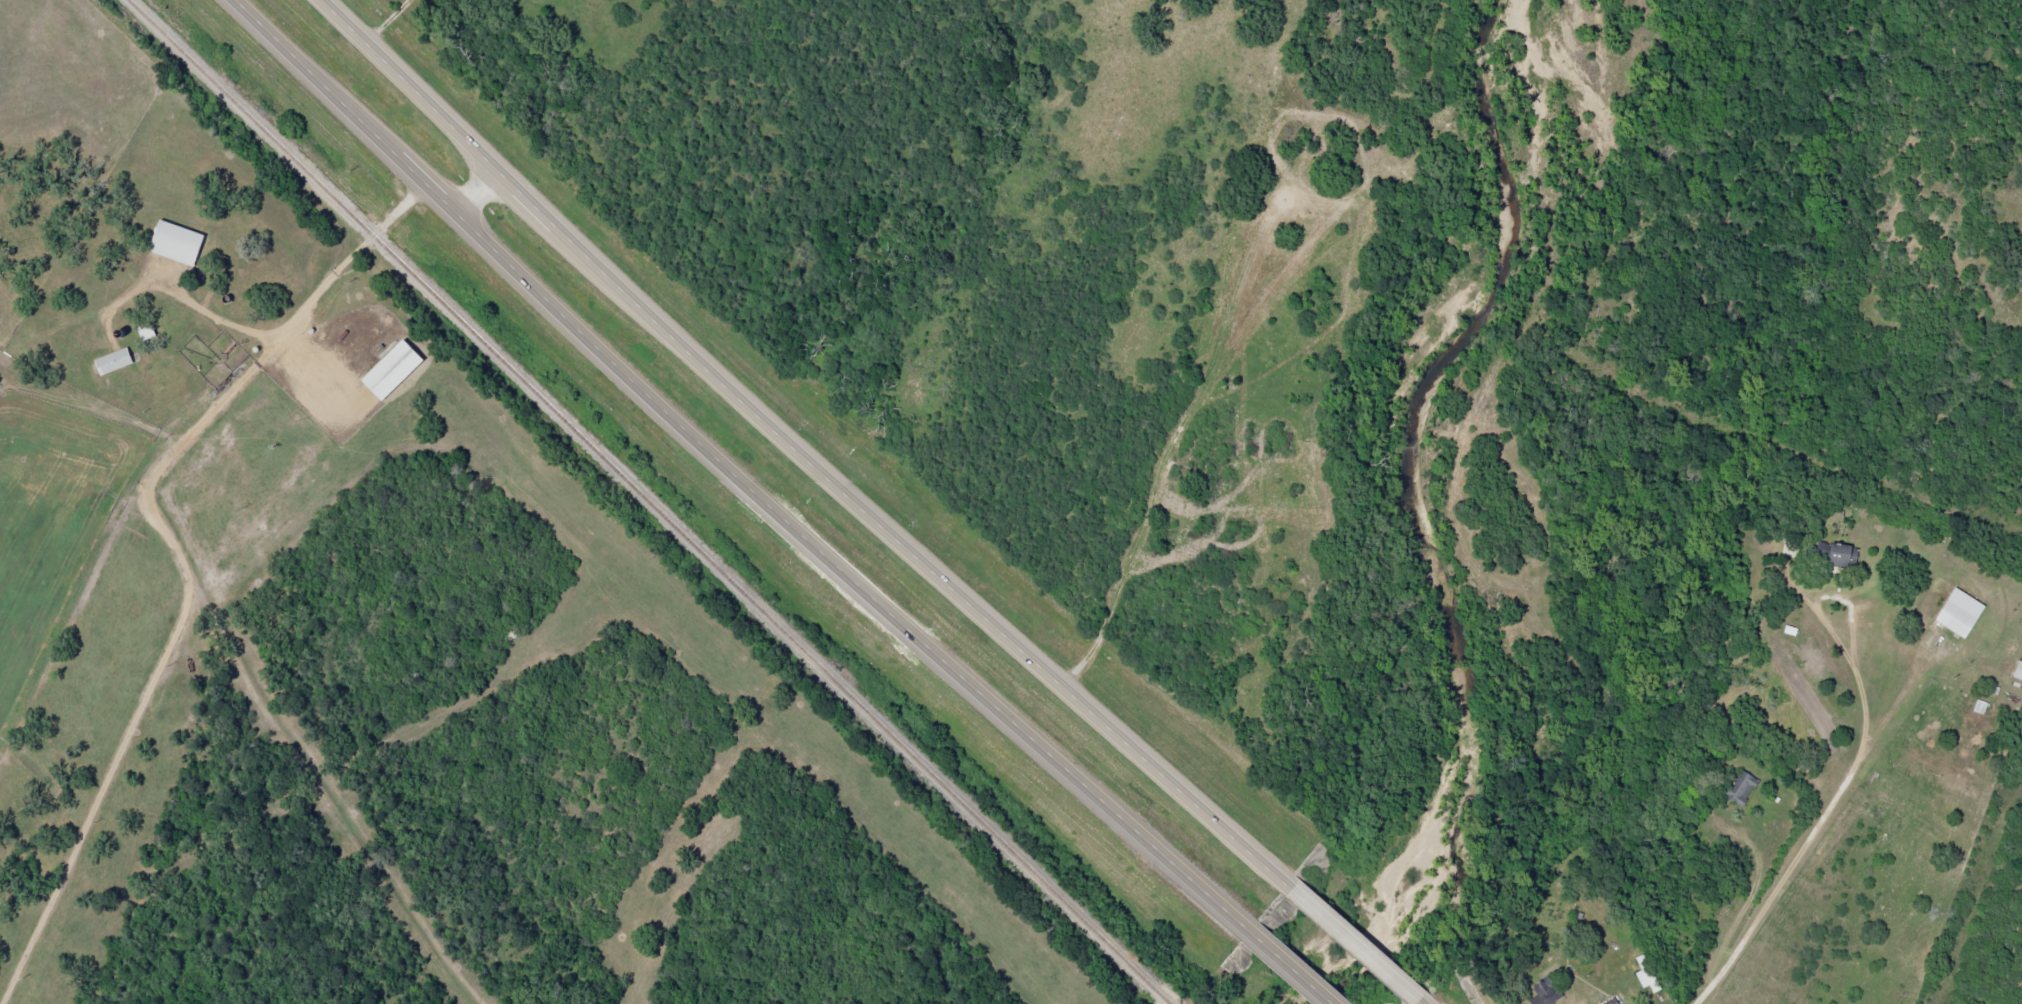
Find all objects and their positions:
road: (380, 19)
road: (473, 188)
building: (174, 243)
building: (110, 361)
building: (389, 370)
road: (793, 452)
road: (731, 474)
railway: (644, 500)
road: (291, 555)
building: (1839, 555)
road: (1949, 610)
building: (1958, 613)
building: (2017, 671)
road: (1884, 702)
road: (1784, 781)
building: (1739, 788)
road: (1892, 803)
road: (1350, 942)
road: (1287, 966)
building: (1646, 978)
building: (1543, 992)
building: (1609, 1001)
road: (1417, 1002)
railway: (1165, 1003)

